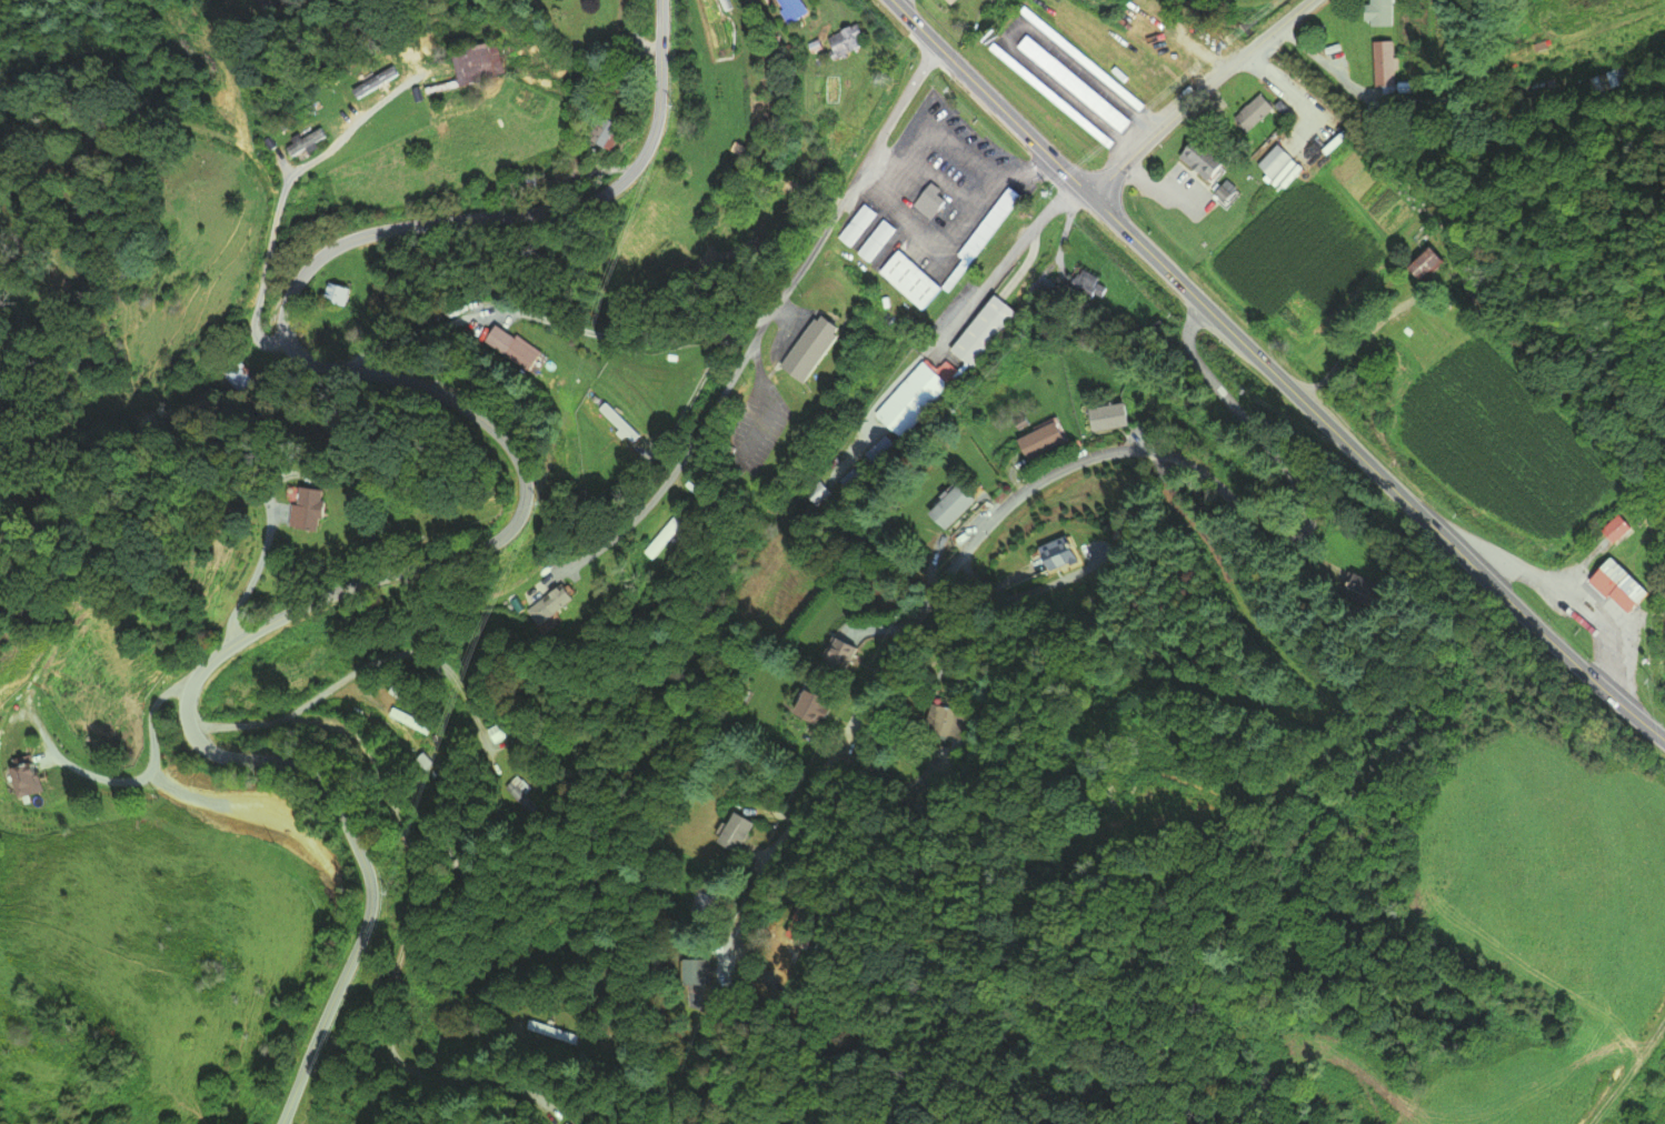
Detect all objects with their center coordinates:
building: (956, 1)
building: (801, 9)
building: (1379, 13)
road: (1278, 27)
building: (853, 41)
building: (1085, 58)
building: (483, 63)
building: (1380, 64)
building: (1607, 82)
building: (1078, 83)
building: (1244, 117)
road: (1166, 123)
building: (609, 130)
building: (306, 142)
building: (1194, 161)
building: (1274, 169)
building: (937, 202)
building: (998, 221)
building: (859, 224)
building: (880, 240)
building: (1414, 267)
building: (1096, 285)
building: (346, 292)
road: (769, 317)
building: (986, 331)
building: (820, 345)
building: (1403, 345)
building: (515, 348)
road: (1274, 374)
building: (237, 377)
building: (911, 399)
building: (1107, 418)
building: (1043, 443)
building: (880, 451)
road: (1160, 452)
building: (955, 506)
building: (312, 509)
road: (518, 521)
building: (674, 536)
building: (1058, 559)
road: (245, 578)
building: (1607, 584)
building: (562, 602)
road: (343, 679)
building: (821, 704)
road: (272, 722)
building: (947, 722)
building: (423, 723)
building: (506, 733)
building: (530, 794)
road: (426, 827)
building: (745, 832)
building: (466, 869)
road: (416, 901)
road: (745, 915)
building: (705, 972)
road: (480, 1054)
road: (486, 1083)

